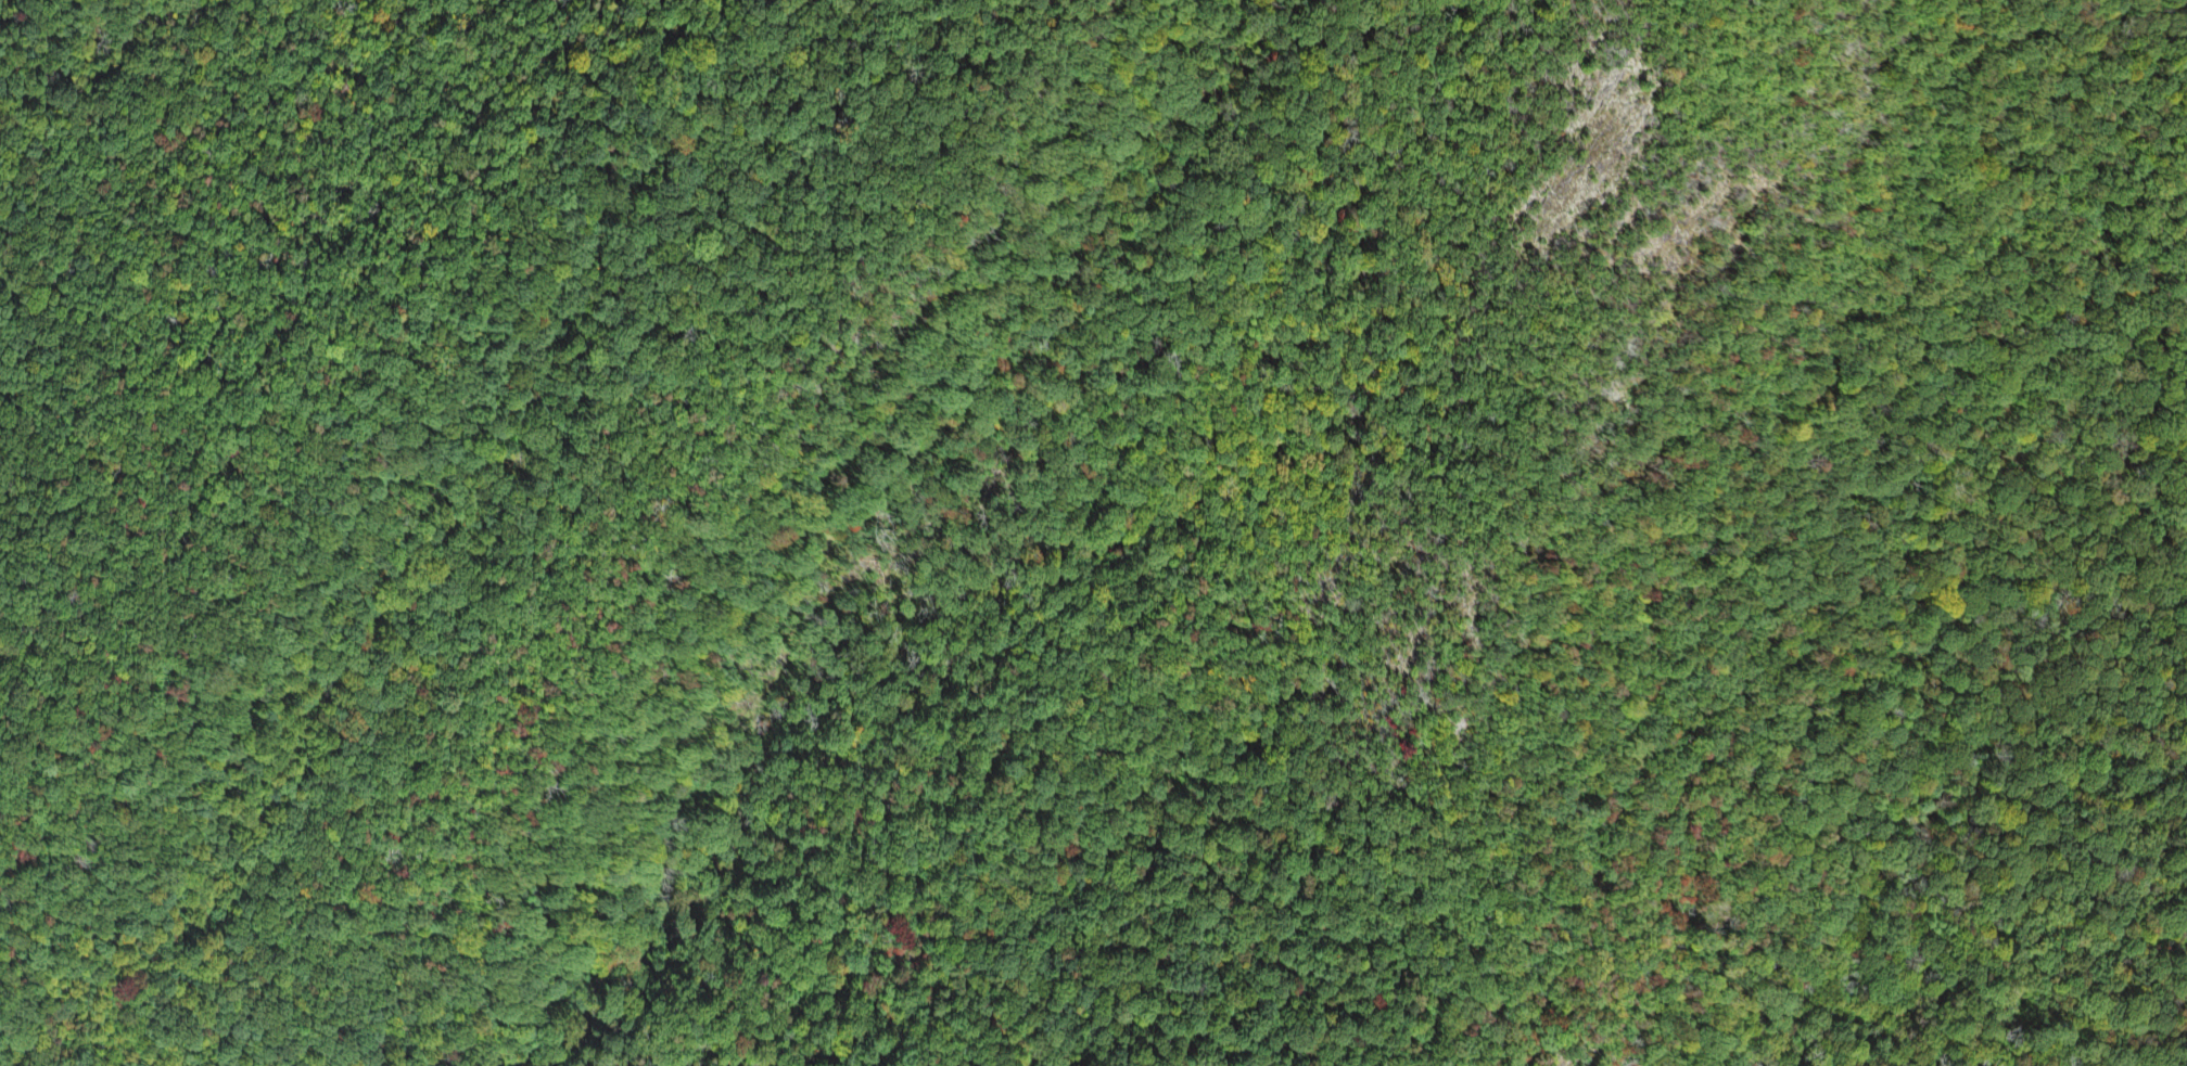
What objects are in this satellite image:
road: (1642, 434)
road: (110, 1001)

